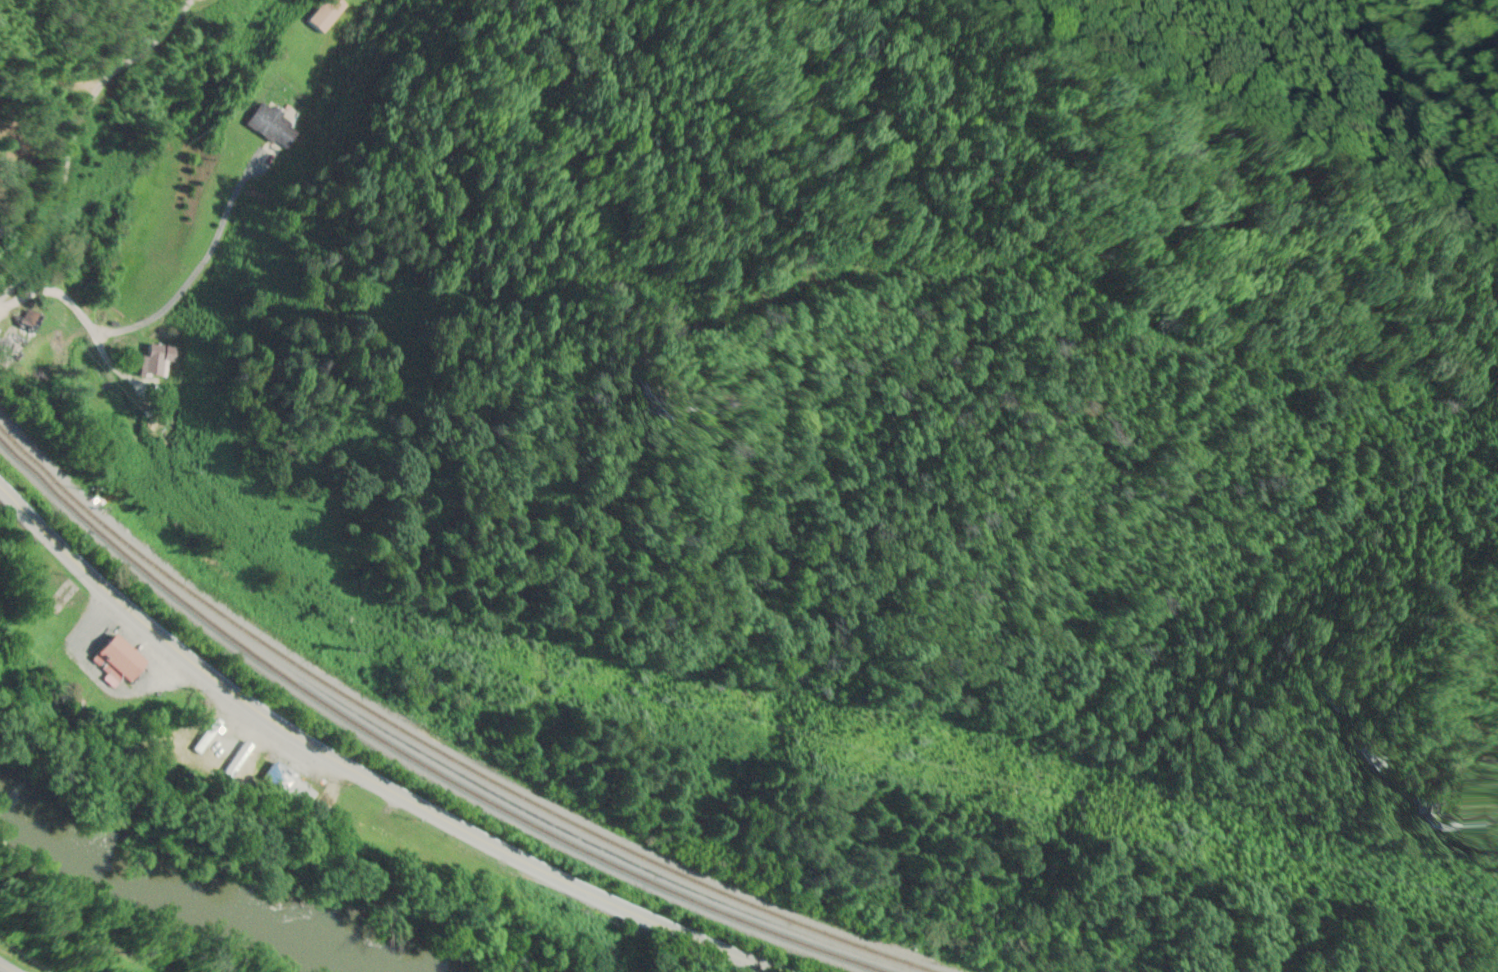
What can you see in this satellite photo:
building: (322, 15)
building: (271, 128)
road: (153, 316)
building: (23, 321)
building: (155, 363)
building: (111, 663)
railway: (439, 750)
building: (179, 751)
building: (235, 756)
road: (360, 773)
building: (286, 787)
river: (180, 901)
road: (8, 967)

